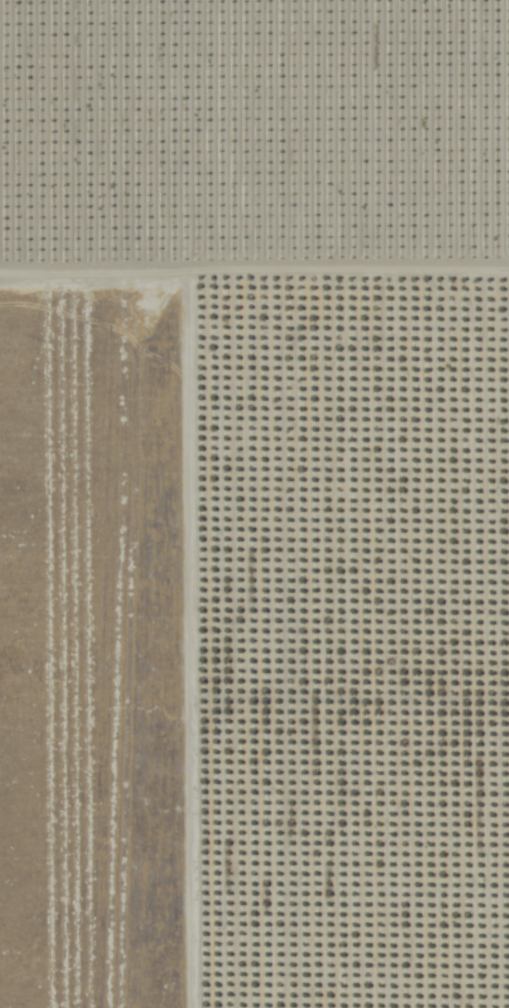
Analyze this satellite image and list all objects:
crop: (255, 126)
road: (254, 276)
crop: (343, 645)

